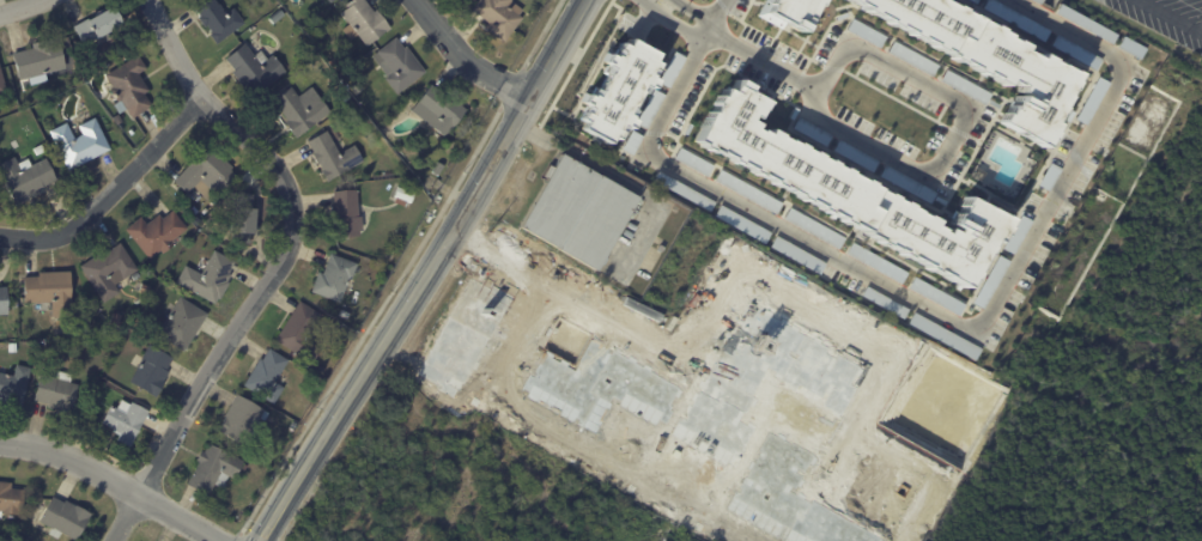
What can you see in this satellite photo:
building: (328, 0)
building: (970, 0)
building: (1037, 1)
road: (649, 2)
road: (654, 2)
road: (19, 7)
building: (790, 12)
building: (499, 16)
building: (839, 16)
building: (217, 17)
road: (1168, 17)
building: (1013, 18)
parking lot: (1165, 18)
building: (364, 22)
building: (1083, 24)
building: (98, 26)
road: (700, 31)
building: (864, 32)
road: (538, 35)
building: (1130, 45)
building: (1073, 51)
building: (67, 53)
road: (755, 55)
road: (465, 57)
building: (911, 57)
building: (988, 57)
building: (40, 60)
building: (397, 62)
building: (253, 67)
building: (669, 68)
building: (129, 86)
building: (963, 86)
building: (2, 87)
road: (509, 87)
building: (615, 90)
building: (346, 97)
building: (1089, 99)
building: (300, 107)
building: (649, 107)
building: (437, 108)
building: (116, 120)
building: (811, 130)
road: (953, 133)
building: (78, 141)
building: (631, 141)
building: (40, 150)
building: (855, 154)
building: (333, 157)
building: (693, 160)
building: (438, 169)
building: (206, 175)
road: (614, 176)
building: (1048, 176)
building: (25, 178)
building: (906, 183)
building: (682, 190)
building: (747, 190)
building: (846, 190)
road: (113, 192)
building: (400, 195)
building: (576, 211)
building: (347, 214)
building: (241, 218)
building: (742, 223)
building: (814, 227)
building: (154, 231)
building: (1016, 233)
parking lot: (638, 241)
building: (797, 254)
building: (876, 262)
road: (279, 266)
building: (109, 268)
road: (758, 270)
road: (426, 273)
building: (206, 275)
building: (334, 279)
building: (991, 281)
building: (48, 290)
building: (936, 294)
building: (2, 299)
building: (886, 302)
road: (923, 303)
building: (344, 315)
building: (115, 321)
building: (180, 322)
road: (370, 324)
building: (299, 330)
building: (334, 330)
building: (946, 335)
road: (1139, 340)
building: (89, 344)
building: (13, 348)
building: (151, 371)
building: (267, 377)
building: (13, 387)
building: (57, 394)
building: (125, 421)
building: (243, 421)
road: (572, 438)
building: (213, 470)
road: (923, 473)
road: (114, 481)
building: (10, 498)
building: (63, 517)

